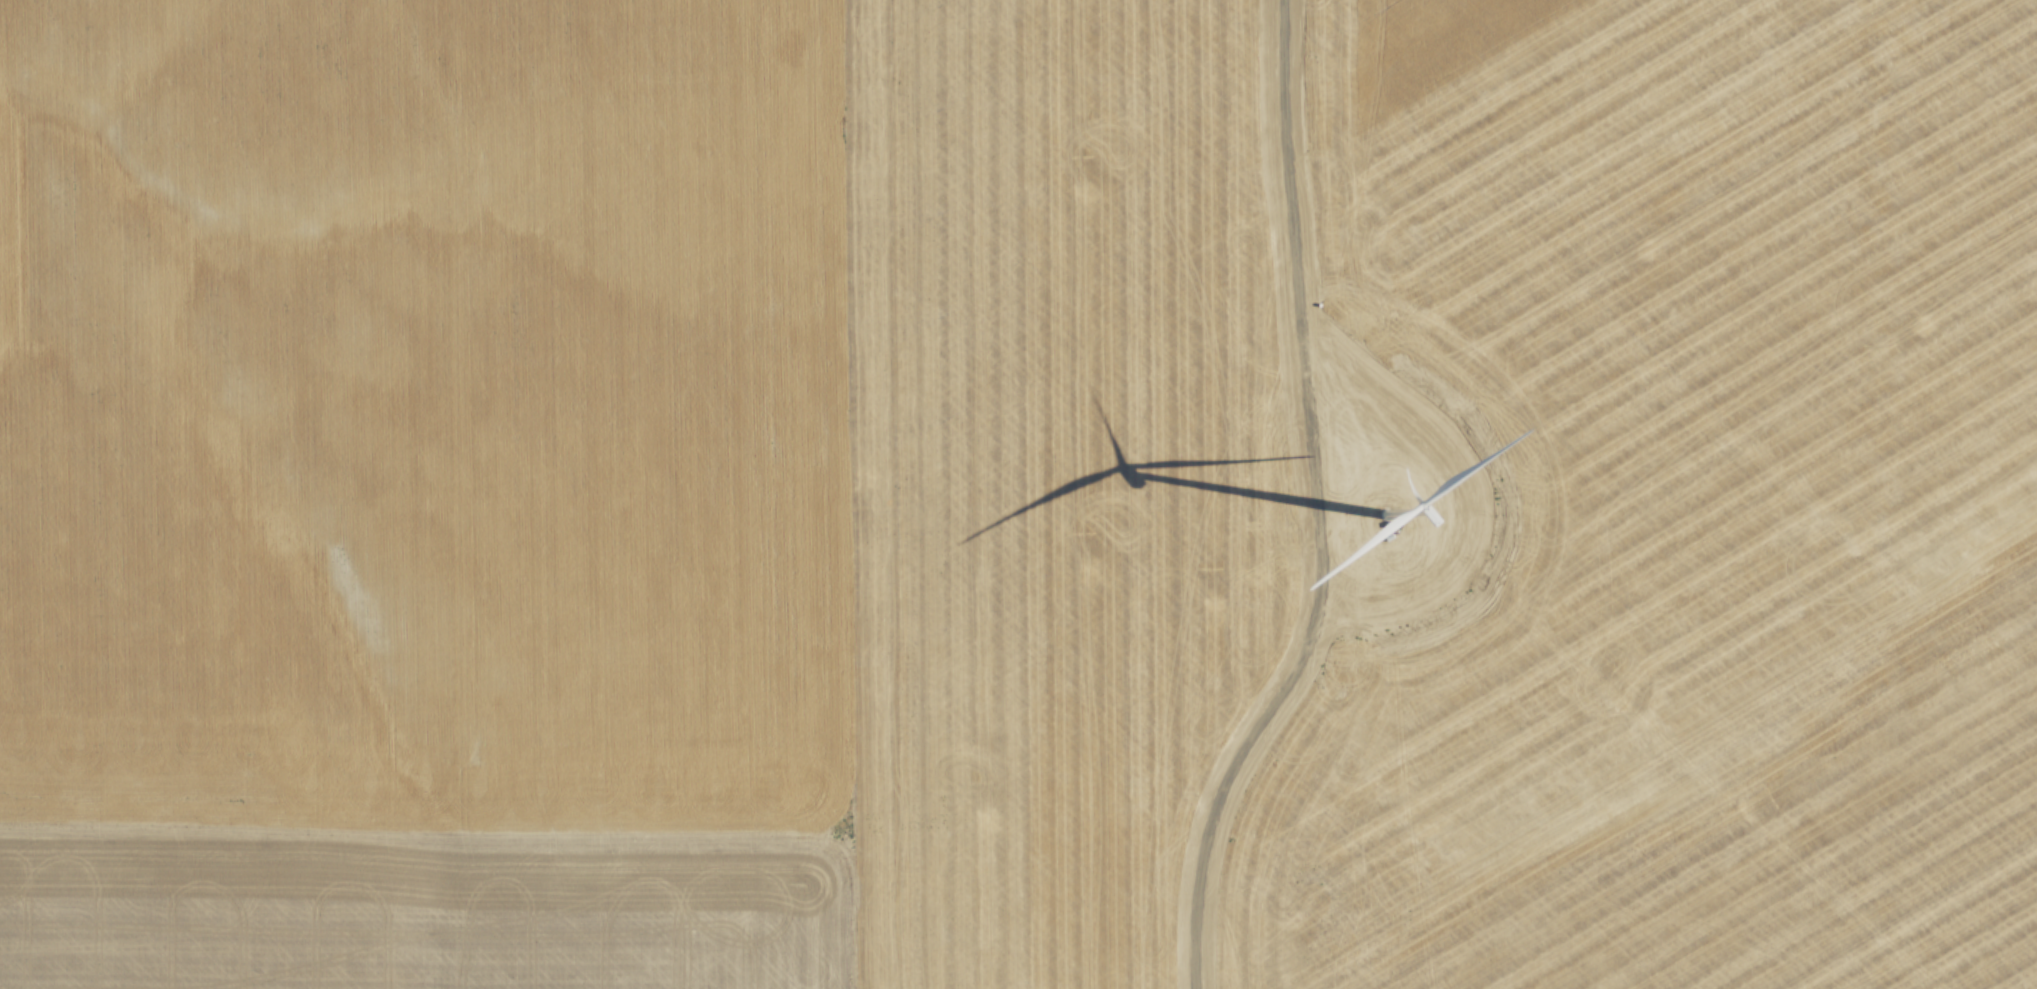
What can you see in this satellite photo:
wind turbine: (1392, 513)

